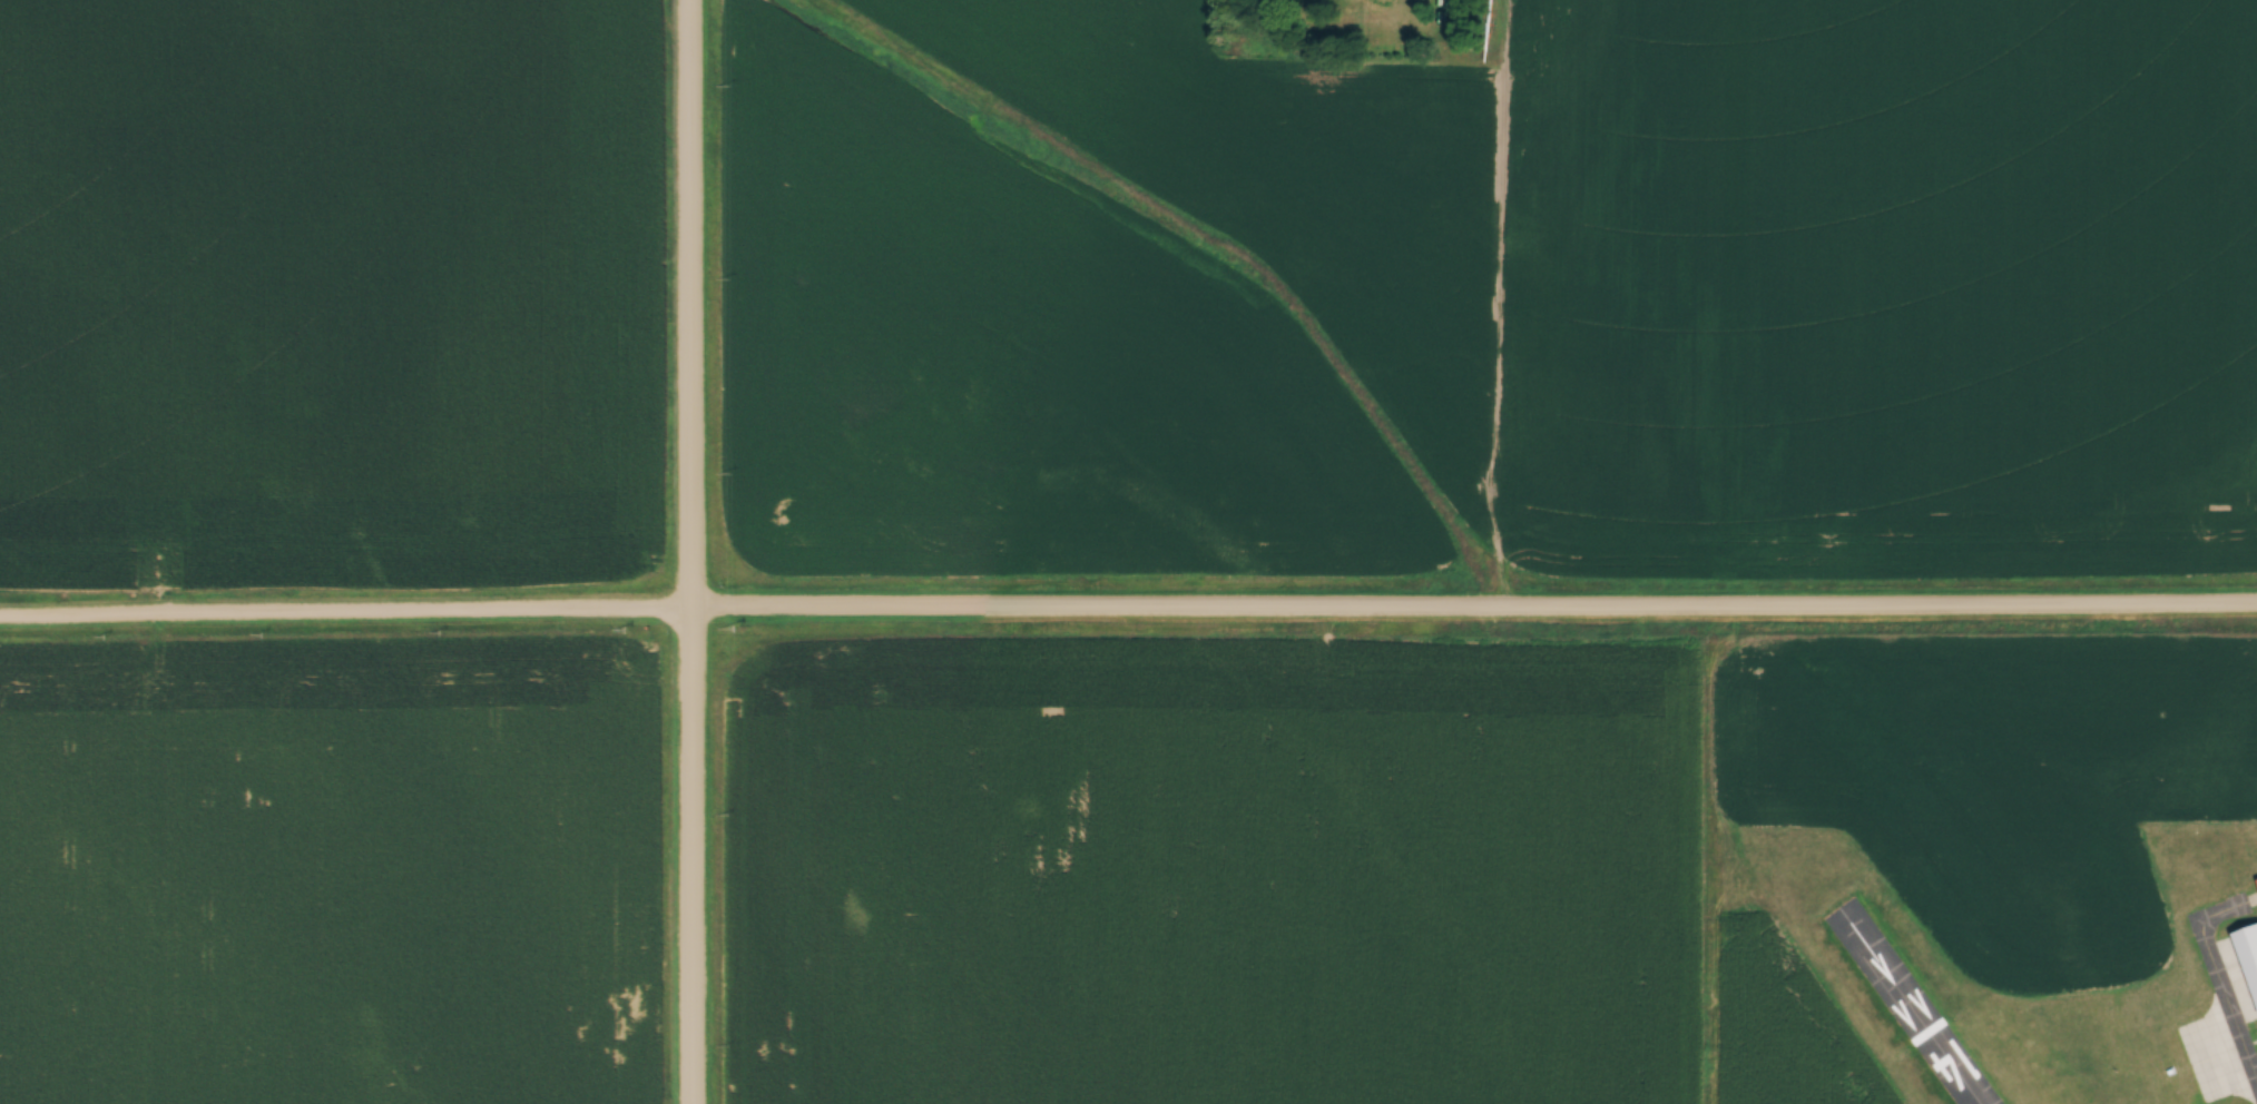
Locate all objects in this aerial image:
road: (690, 305)
road: (1128, 608)
road: (691, 857)
airport: (1871, 974)
airport taxiway: (2218, 975)
airport runway: (1911, 1005)
crop: (1789, 1035)
airport apron: (2219, 1053)

